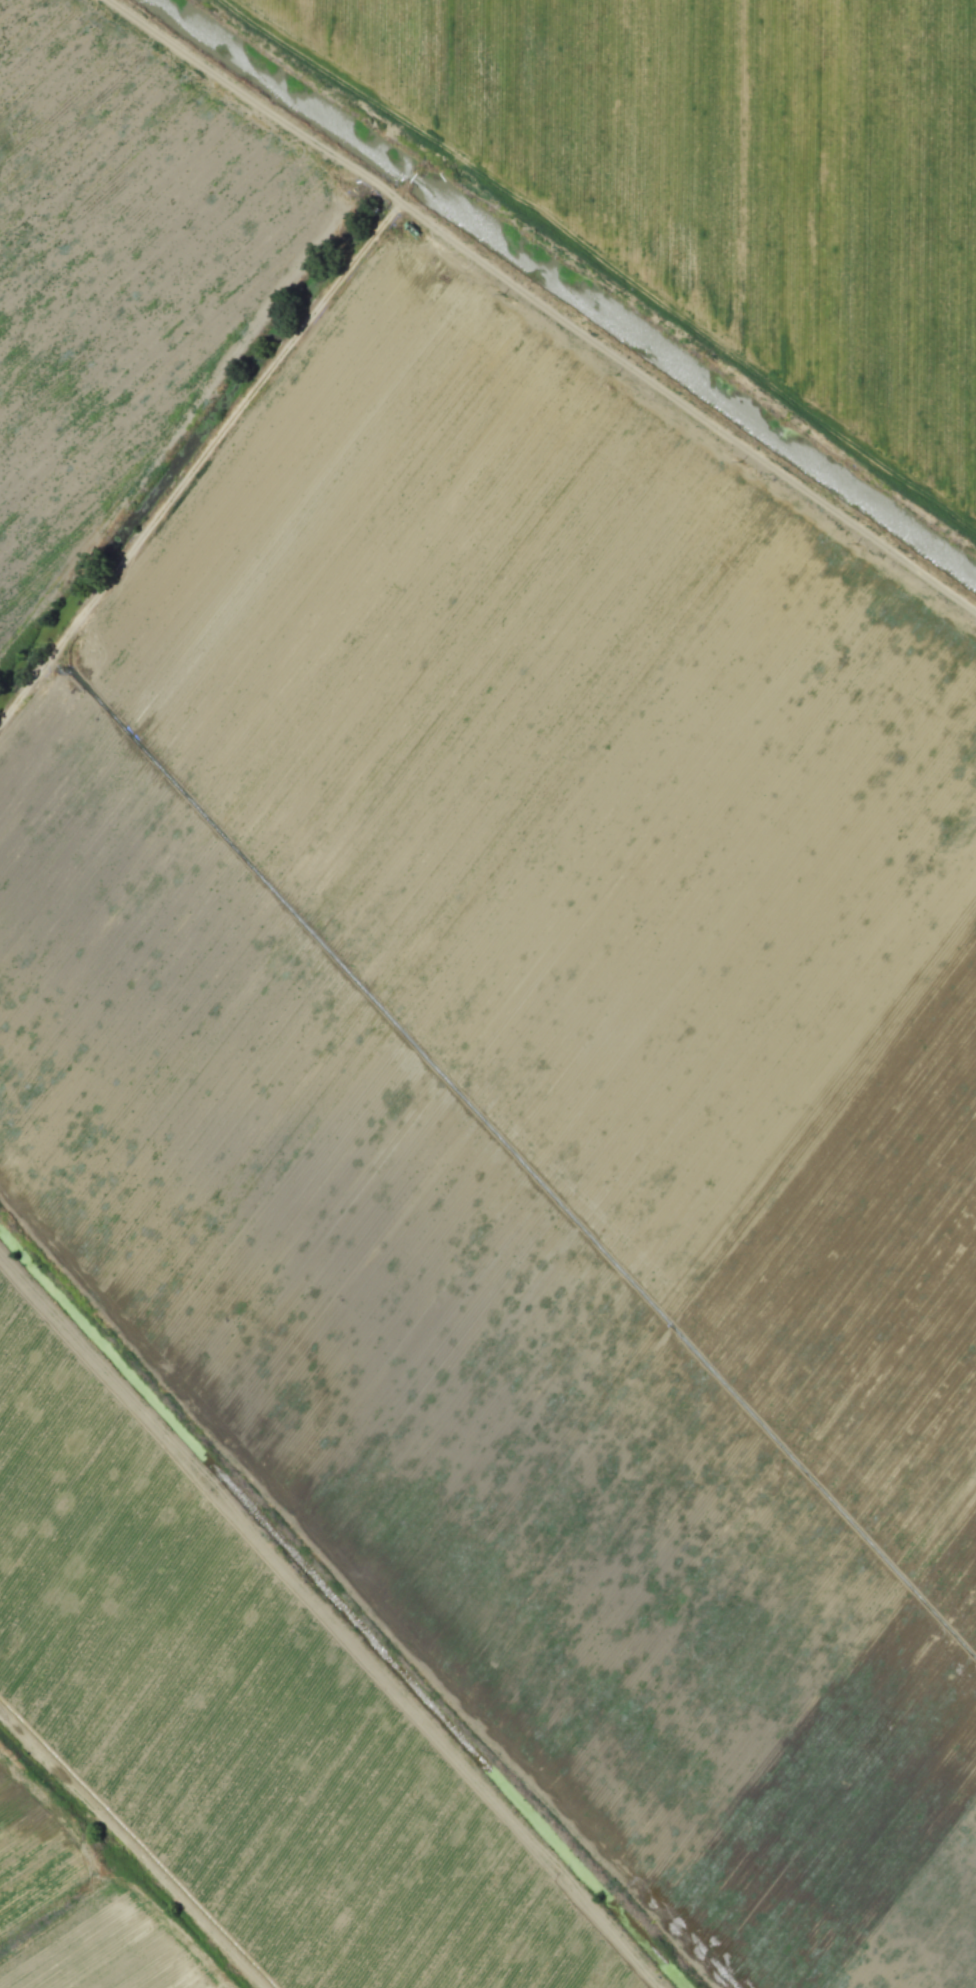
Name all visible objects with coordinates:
crop: (716, 183)
crop: (549, 1087)

